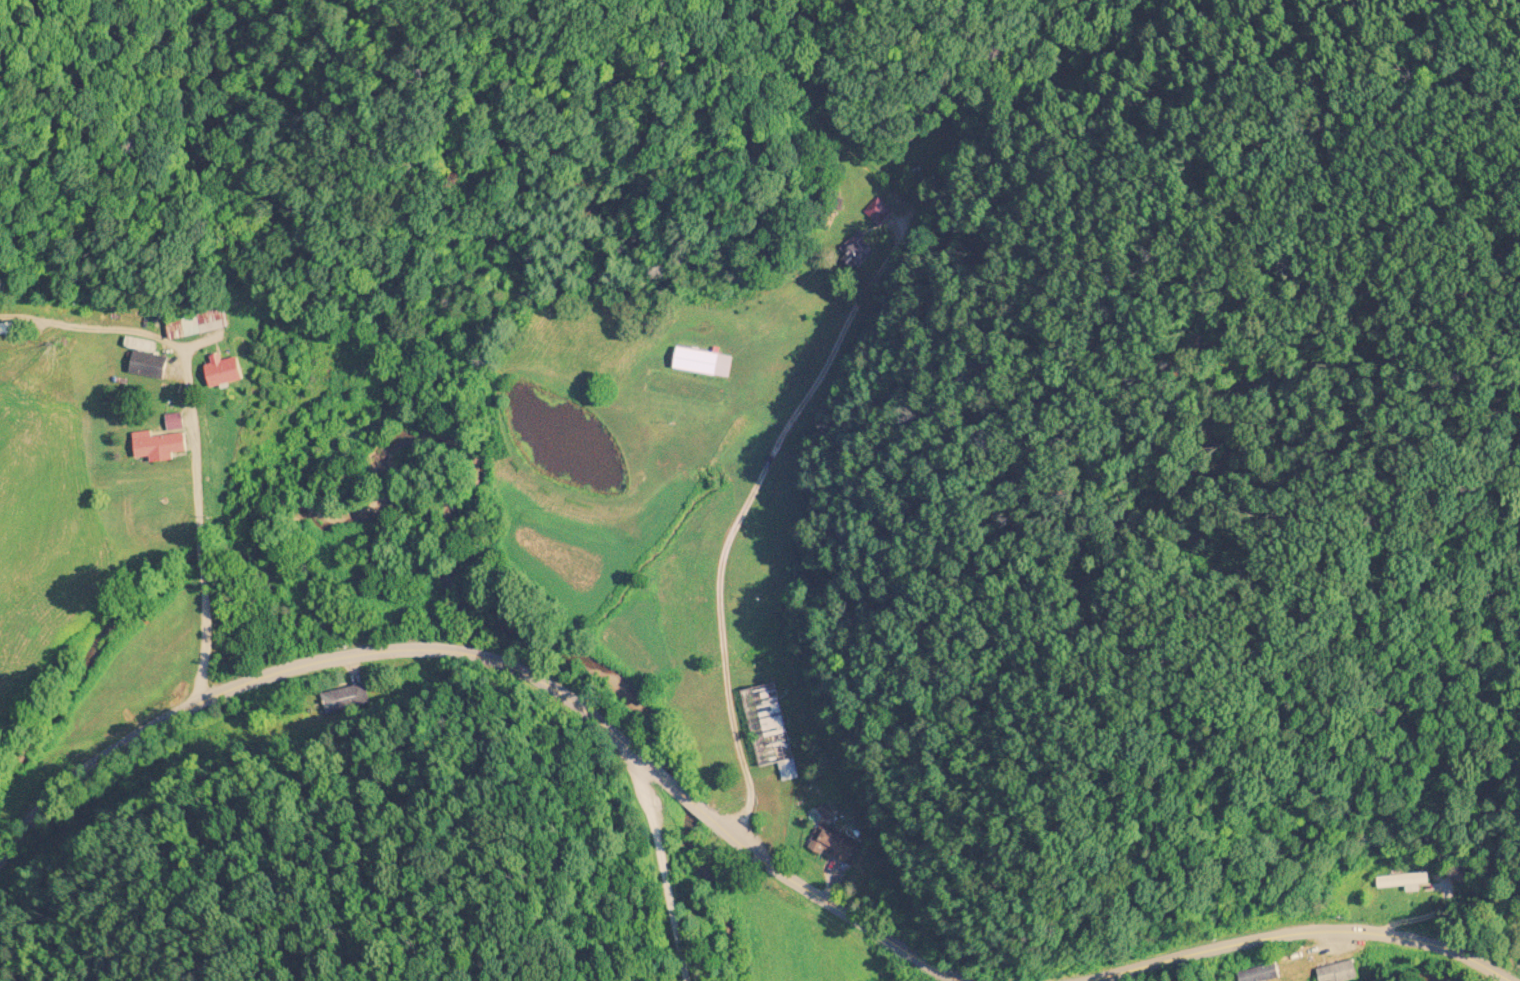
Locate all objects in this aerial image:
building: (878, 211)
building: (860, 255)
building: (197, 324)
building: (226, 354)
building: (698, 362)
building: (149, 364)
road: (807, 386)
building: (175, 422)
building: (159, 446)
road: (344, 655)
building: (769, 729)
building: (833, 844)
road: (657, 867)
building: (1404, 880)
road: (822, 903)
road: (1289, 929)
building: (1342, 972)

